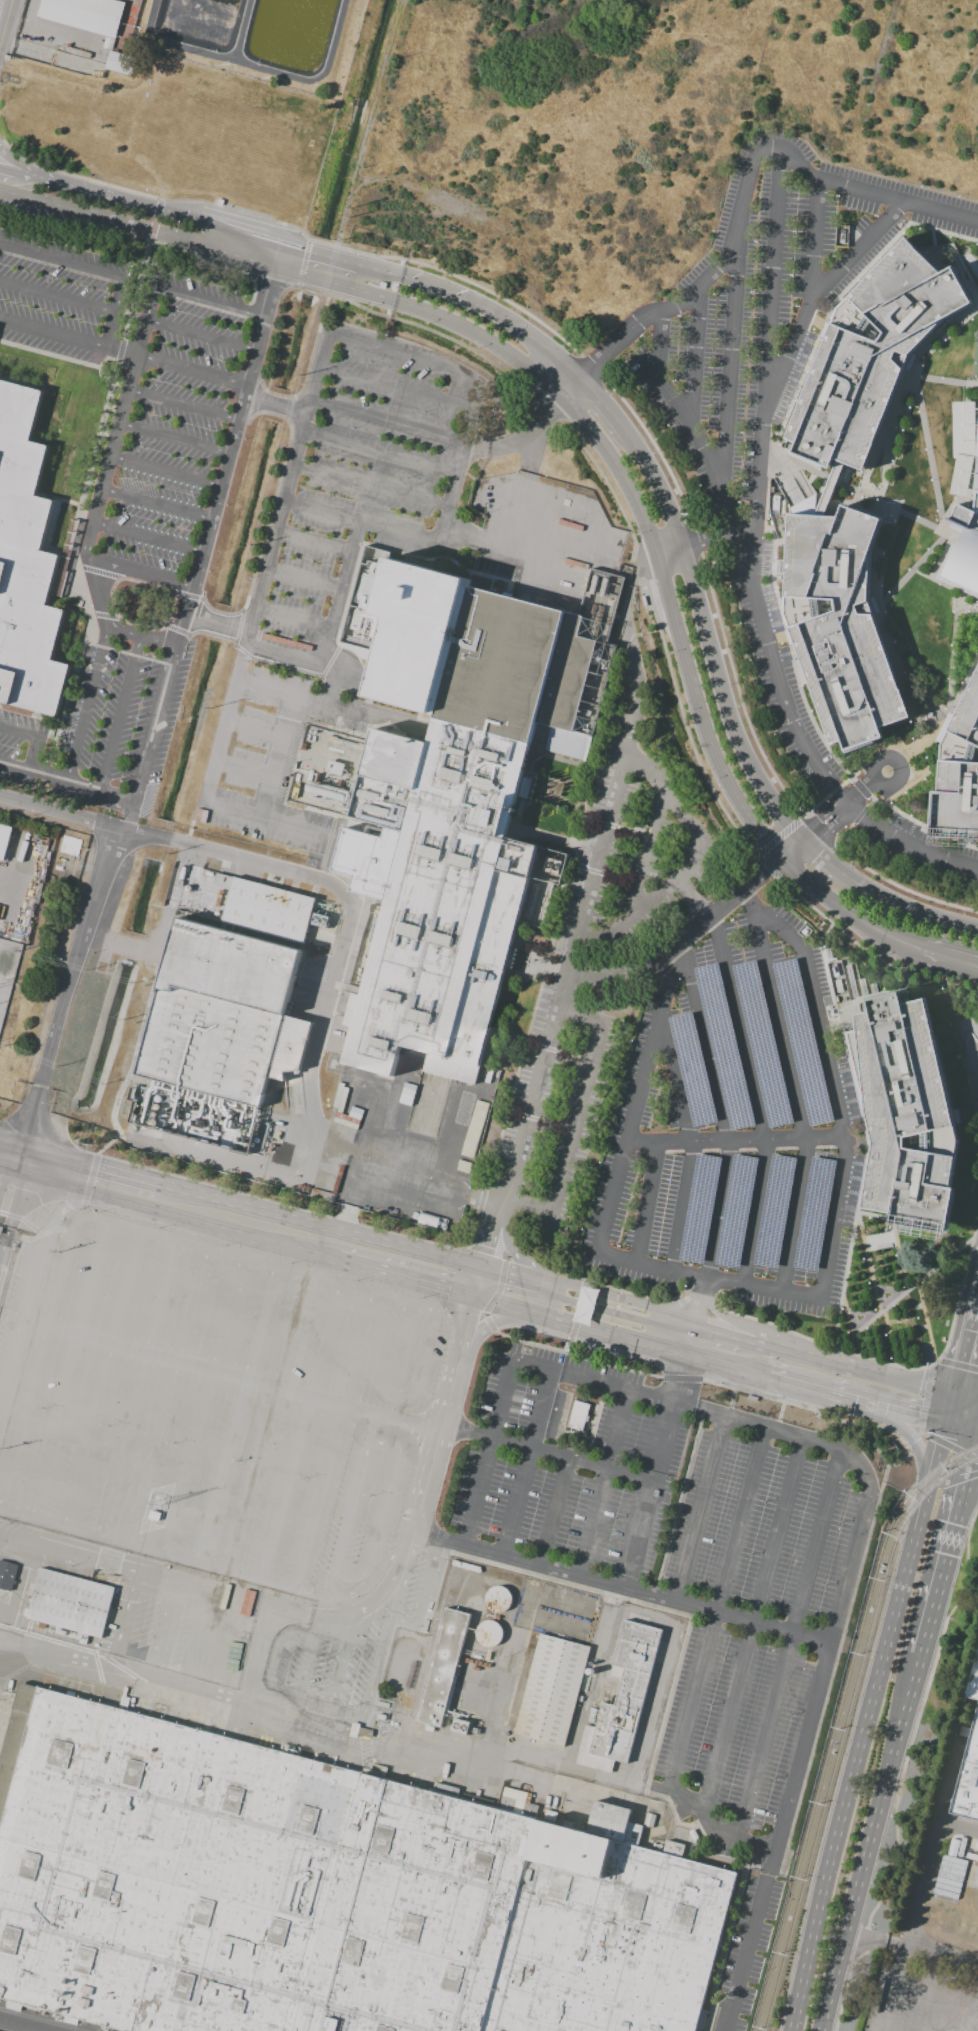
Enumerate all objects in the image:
building: (87, 15)
road: (6, 23)
building: (119, 63)
road: (19, 171)
road: (5, 185)
road: (144, 221)
road: (816, 236)
building: (945, 257)
park: (977, 257)
road: (318, 260)
building: (970, 264)
road: (125, 278)
road: (773, 280)
road: (119, 296)
road: (57, 299)
road: (478, 305)
road: (429, 312)
road: (257, 316)
road: (110, 331)
road: (53, 333)
road: (193, 335)
road: (621, 342)
road: (248, 349)
building: (878, 349)
road: (405, 355)
road: (696, 355)
road: (731, 362)
park: (976, 362)
road: (787, 363)
parking lot: (766, 368)
road: (185, 369)
road: (240, 385)
road: (574, 387)
road: (395, 388)
road: (176, 402)
road: (606, 404)
road: (276, 406)
road: (231, 416)
road: (387, 421)
road: (120, 422)
road: (689, 425)
road: (168, 436)
road: (523, 439)
road: (222, 451)
road: (532, 451)
road: (379, 453)
road: (459, 461)
road: (158, 469)
parking lot: (127, 476)
road: (213, 482)
road: (370, 487)
parking lot: (362, 489)
road: (285, 490)
road: (149, 502)
road: (204, 517)
road: (361, 521)
road: (140, 535)
road: (204, 543)
road: (312, 543)
road: (699, 546)
road: (195, 549)
building: (966, 552)
building: (28, 558)
road: (134, 571)
road: (303, 580)
road: (186, 587)
road: (339, 593)
road: (293, 618)
road: (215, 621)
road: (107, 624)
road: (678, 624)
building: (844, 626)
road: (709, 640)
road: (286, 657)
road: (343, 673)
road: (332, 688)
road: (304, 699)
road: (87, 704)
road: (119, 713)
road: (224, 723)
road: (253, 727)
road: (19, 733)
road: (32, 757)
road: (275, 757)
road: (15, 767)
road: (243, 768)
road: (648, 771)
road: (869, 775)
building: (961, 775)
road: (80, 786)
building: (449, 812)
road: (264, 819)
road: (652, 833)
parking lot: (667, 837)
building: (4, 839)
road: (168, 841)
road: (795, 848)
parking lot: (921, 848)
road: (690, 856)
road: (822, 857)
road: (802, 872)
road: (633, 890)
road: (653, 894)
road: (720, 909)
road: (906, 909)
building: (265, 911)
road: (867, 919)
road: (583, 926)
road: (610, 928)
road: (948, 949)
road: (682, 952)
power substation: (6, 966)
road: (615, 974)
road: (66, 996)
building: (221, 1017)
road: (320, 1028)
road: (832, 1082)
road: (793, 1090)
road: (755, 1099)
building: (906, 1111)
road: (573, 1118)
building: (474, 1127)
parking lot: (735, 1127)
building: (141, 1130)
road: (736, 1142)
road: (690, 1144)
road: (213, 1155)
road: (9, 1164)
road: (405, 1171)
road: (9, 1177)
road: (647, 1203)
road: (241, 1205)
road: (15, 1210)
road: (63, 1211)
road: (246, 1232)
road: (536, 1276)
road: (709, 1277)
road: (532, 1290)
building: (585, 1304)
road: (643, 1304)
road: (527, 1311)
road: (698, 1315)
road: (22, 1318)
road: (639, 1320)
road: (965, 1346)
road: (824, 1360)
road: (716, 1361)
road: (935, 1362)
road: (958, 1364)
road: (231, 1375)
traffic signals: (954, 1393)
road: (966, 1395)
road: (923, 1407)
road: (950, 1409)
road: (705, 1411)
road: (900, 1411)
road: (444, 1414)
building: (581, 1418)
road: (962, 1432)
road: (948, 1445)
road: (917, 1449)
road: (546, 1452)
road: (487, 1453)
road: (526, 1463)
road: (654, 1469)
road: (933, 1478)
road: (966, 1480)
parking lot: (425, 1482)
road: (601, 1482)
road: (317, 1496)
road: (966, 1507)
road: (699, 1508)
road: (553, 1511)
road: (383, 1516)
road: (145, 1548)
road: (332, 1555)
road: (404, 1563)
building: (6, 1575)
road: (621, 1586)
road: (938, 1589)
building: (216, 1594)
road: (422, 1595)
building: (238, 1600)
building: (69, 1602)
road: (716, 1608)
road: (287, 1614)
road: (752, 1624)
building: (488, 1633)
road: (787, 1645)
road: (272, 1656)
road: (343, 1659)
road: (306, 1666)
building: (444, 1670)
road: (374, 1671)
building: (625, 1693)
building: (550, 1694)
road: (236, 1699)
railway: (838, 1721)
railway: (846, 1728)
road: (797, 1763)
building: (965, 1771)
road: (851, 1780)
road: (709, 1825)
road: (870, 1843)
road: (927, 1870)
building: (322, 1896)
road: (912, 1949)
road: (889, 1988)
road: (18, 2026)

